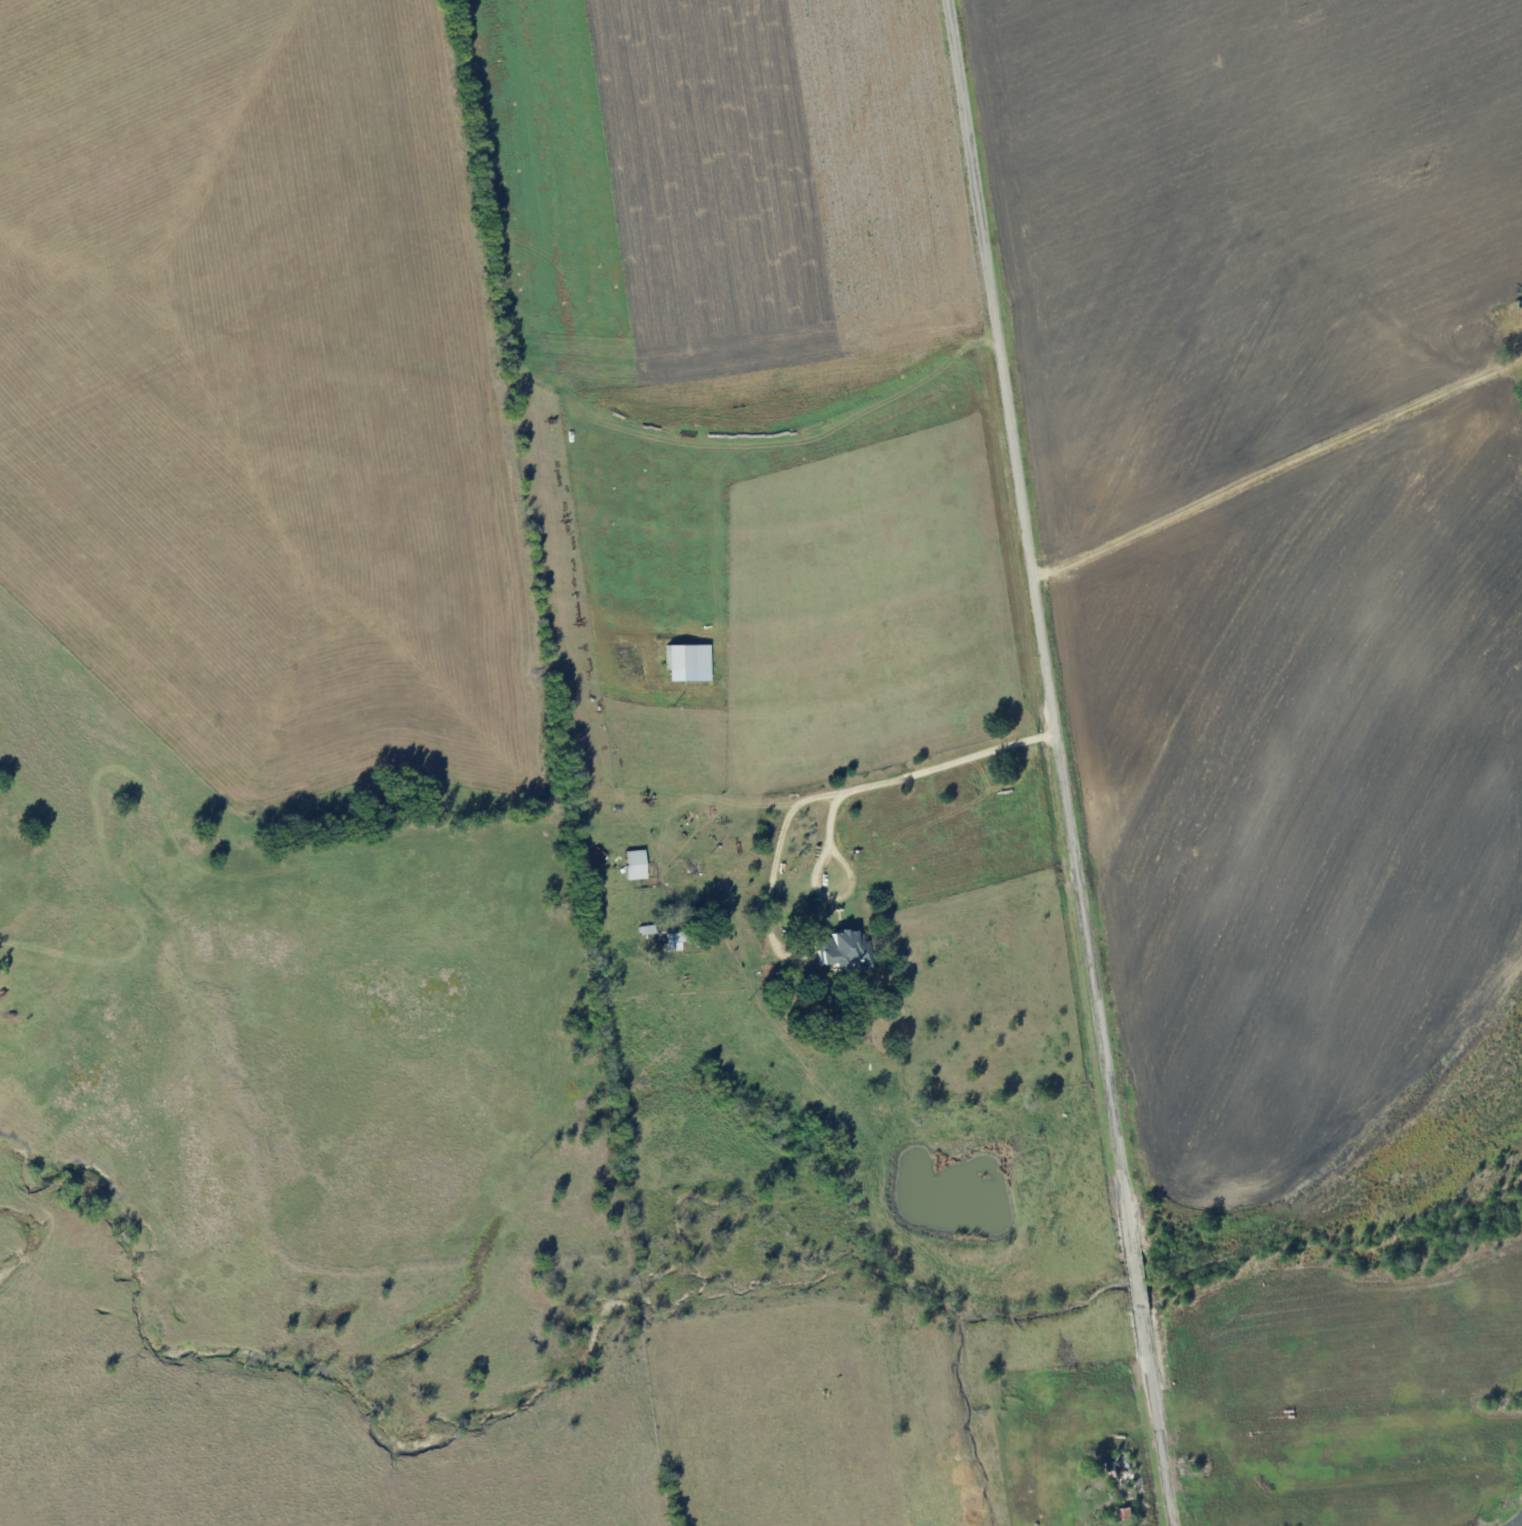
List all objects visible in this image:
road: (1284, 475)
building: (684, 662)
road: (1063, 762)
road: (852, 790)
road: (776, 860)
building: (632, 864)
building: (841, 949)

